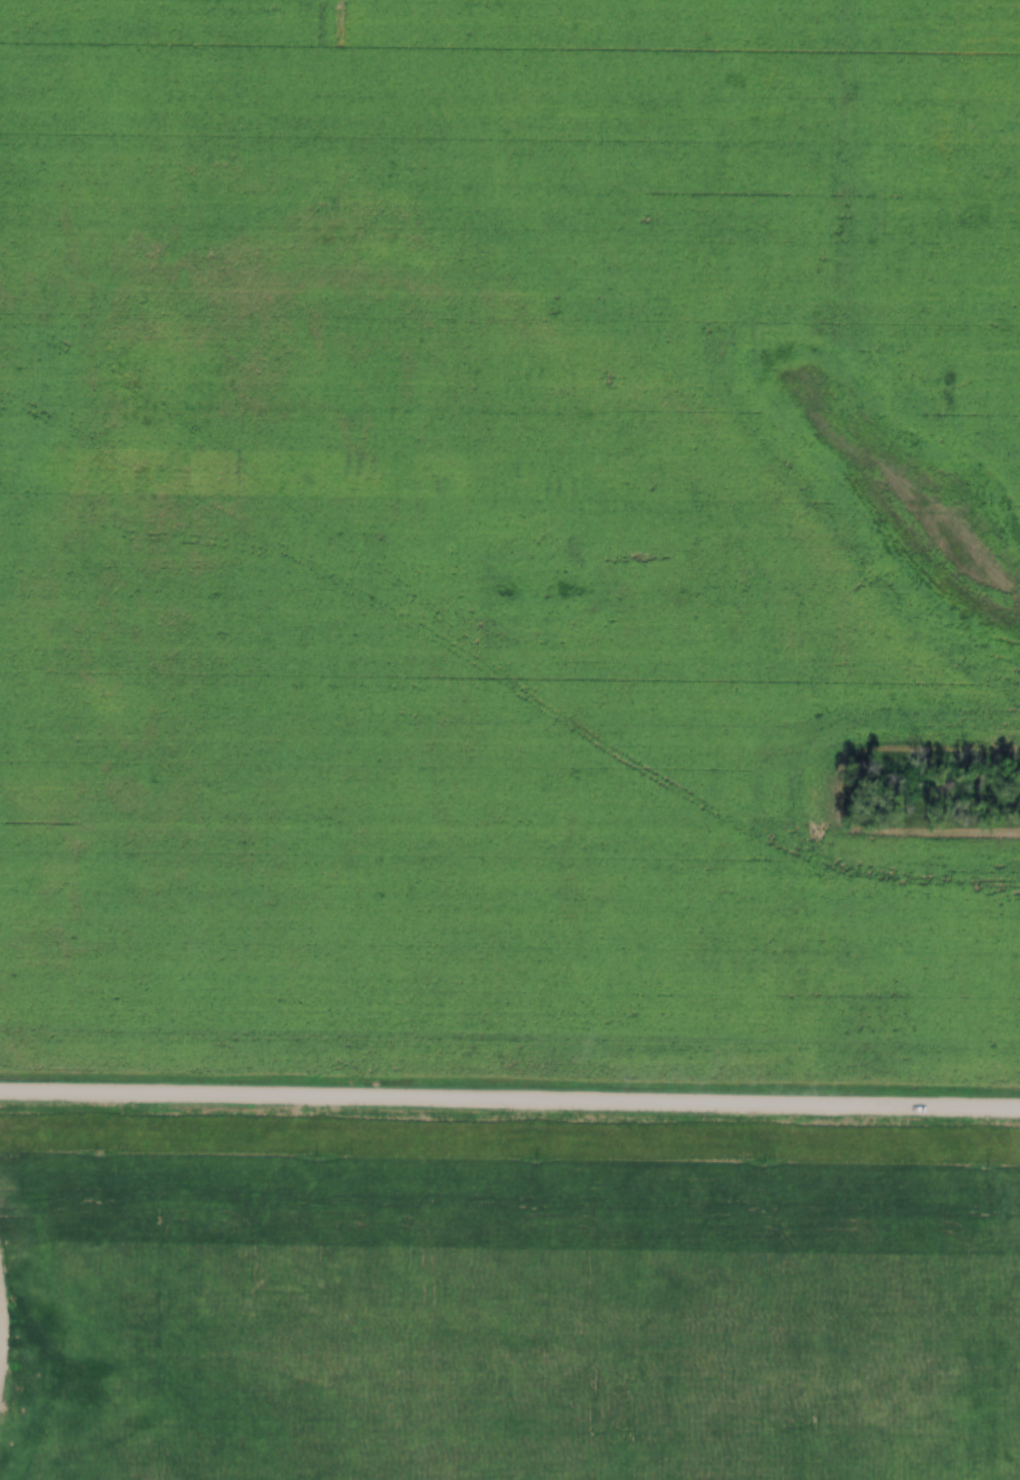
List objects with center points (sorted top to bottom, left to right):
road: (509, 1100)

